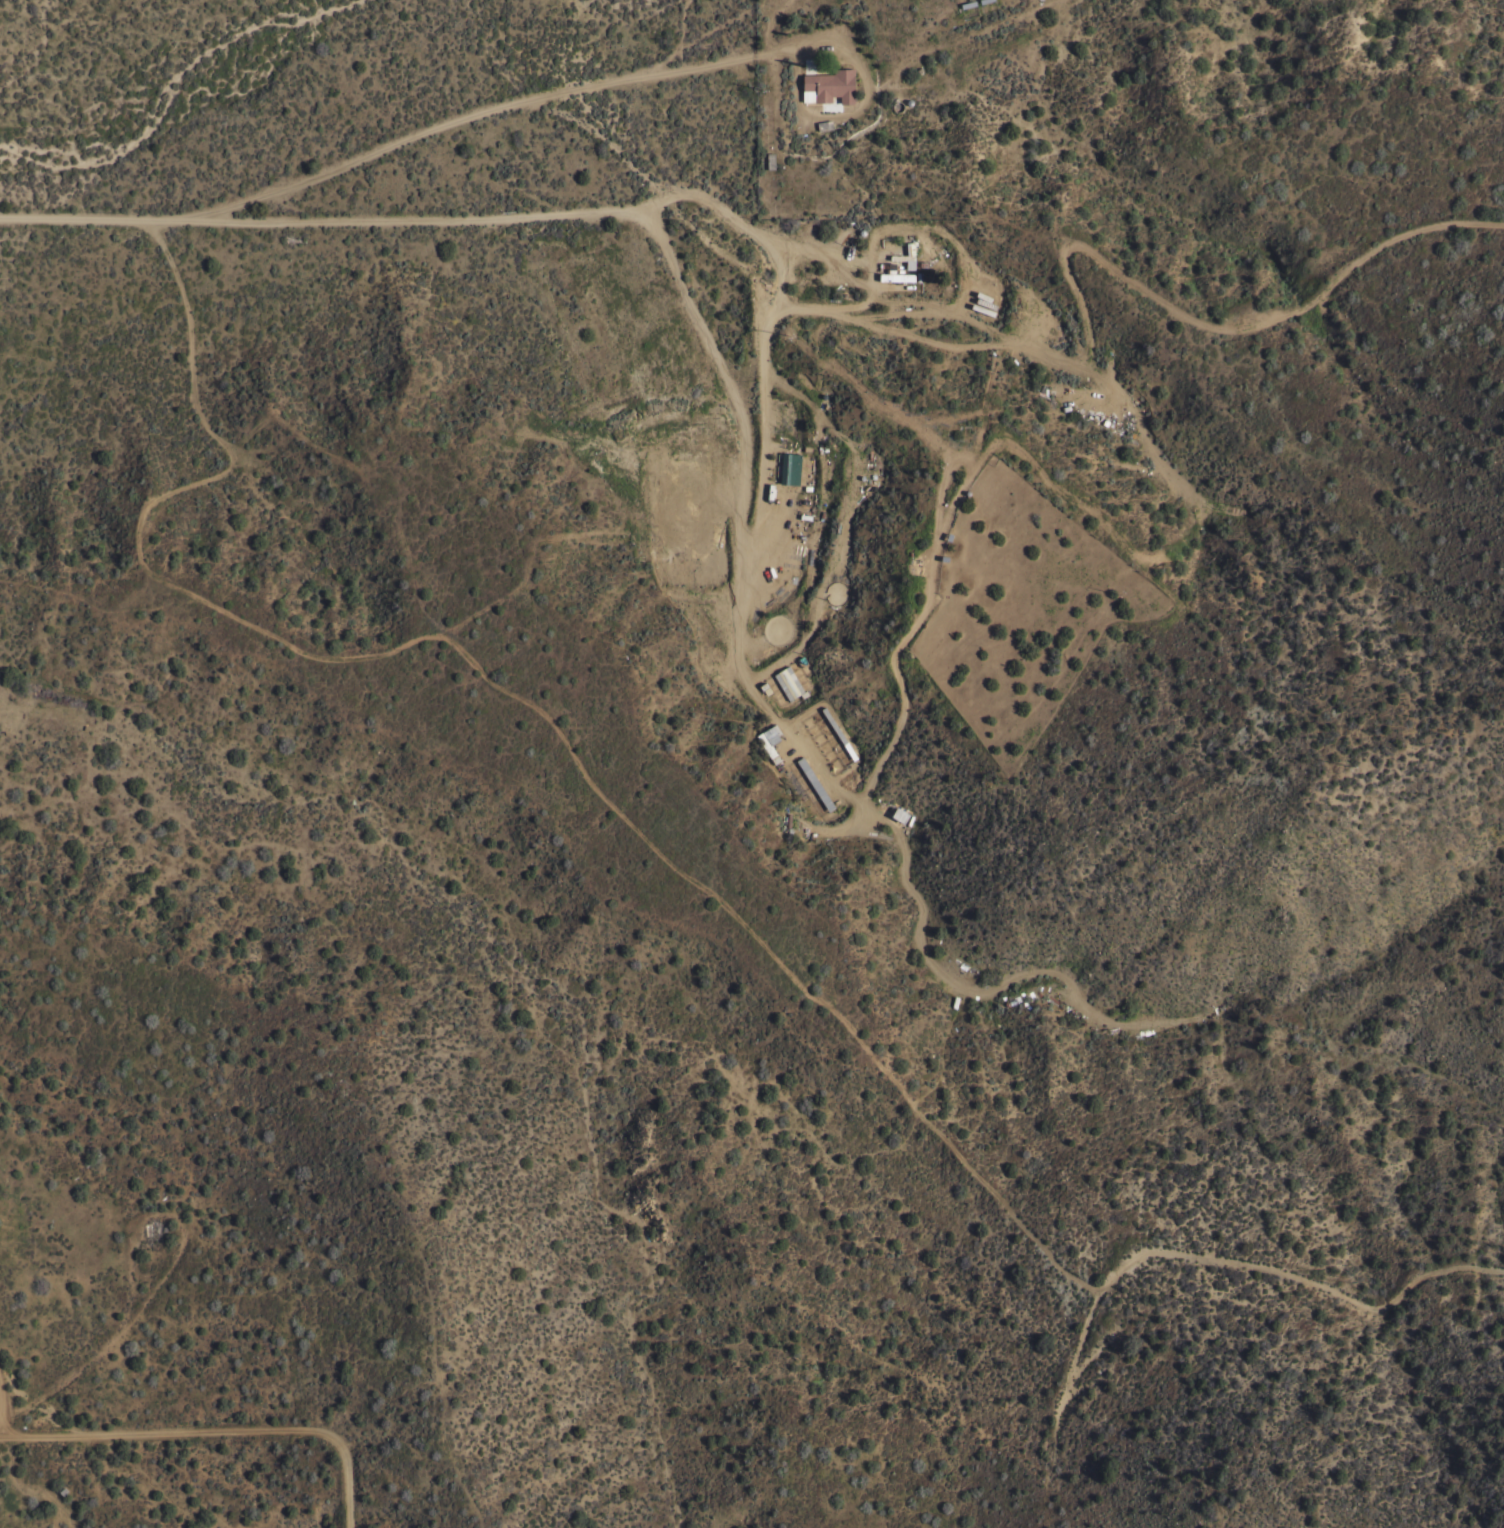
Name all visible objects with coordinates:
building: (828, 86)
road: (460, 120)
building: (824, 124)
building: (769, 160)
road: (723, 212)
road: (90, 218)
building: (892, 272)
road: (956, 298)
building: (790, 465)
building: (806, 502)
building: (788, 683)
building: (838, 734)
building: (770, 741)
building: (814, 783)
road: (3, 1406)
road: (215, 1432)

